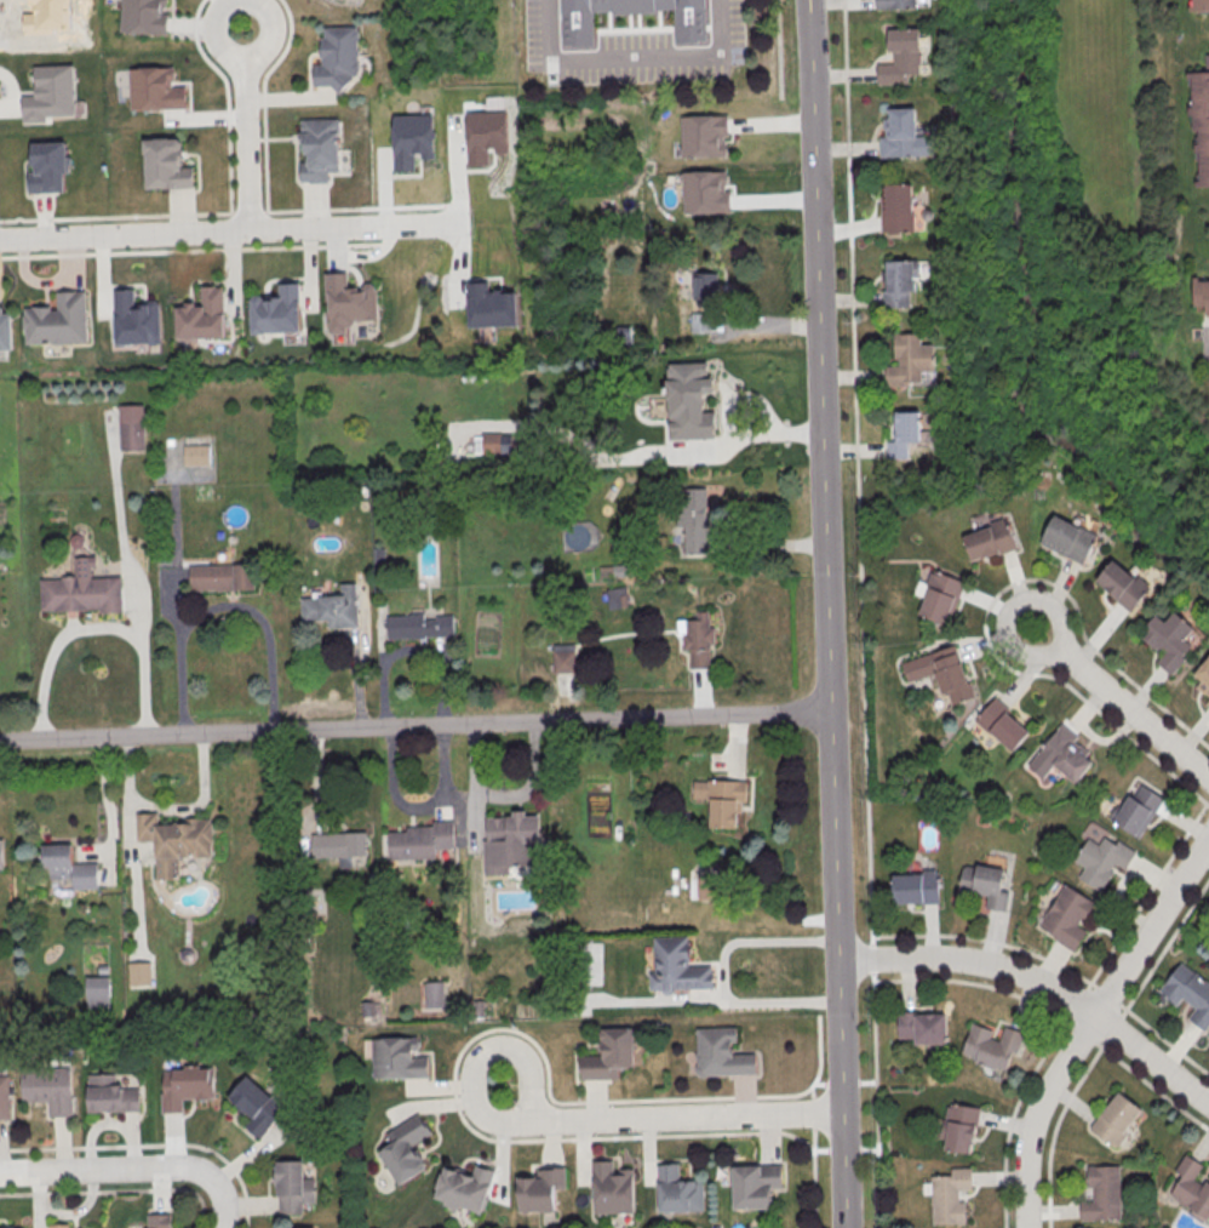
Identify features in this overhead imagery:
building: (895, 4)
building: (1198, 5)
building: (145, 16)
building: (687, 28)
road: (224, 39)
road: (779, 48)
building: (900, 56)
building: (338, 57)
road: (631, 57)
building: (156, 88)
building: (52, 95)
building: (1201, 120)
building: (900, 133)
building: (700, 136)
road: (245, 139)
building: (319, 148)
building: (166, 164)
building: (48, 166)
building: (701, 193)
building: (898, 207)
road: (409, 223)
road: (178, 233)
building: (899, 282)
building: (705, 286)
building: (1202, 293)
building: (349, 302)
building: (279, 310)
building: (199, 318)
building: (57, 319)
building: (133, 321)
building: (703, 322)
building: (5, 329)
road: (1208, 332)
building: (909, 359)
building: (687, 402)
building: (131, 427)
building: (904, 433)
building: (197, 455)
building: (693, 519)
building: (1067, 537)
building: (989, 541)
road: (764, 544)
building: (220, 576)
building: (1123, 584)
building: (81, 589)
building: (940, 596)
road: (222, 606)
building: (330, 610)
road: (984, 611)
road: (826, 613)
road: (863, 613)
building: (417, 626)
road: (93, 627)
building: (695, 638)
building: (1167, 639)
road: (408, 650)
building: (562, 661)
building: (941, 670)
road: (353, 676)
building: (1203, 676)
road: (700, 691)
building: (1208, 702)
road: (1122, 703)
building: (1003, 724)
road: (414, 725)
road: (734, 747)
building: (1059, 754)
road: (315, 782)
building: (720, 799)
road: (417, 809)
building: (1135, 810)
road: (108, 811)
building: (172, 840)
building: (418, 840)
building: (510, 841)
building: (337, 844)
building: (0, 855)
building: (1100, 859)
building: (68, 866)
building: (984, 884)
building: (706, 886)
building: (916, 886)
building: (1065, 916)
building: (585, 956)
road: (1055, 964)
building: (675, 965)
building: (138, 972)
road: (721, 973)
road: (1039, 984)
building: (98, 990)
building: (432, 994)
building: (1188, 994)
road: (1075, 1005)
road: (1055, 1017)
road: (1089, 1023)
building: (922, 1027)
road: (1111, 1028)
building: (991, 1046)
building: (720, 1052)
road: (479, 1055)
building: (608, 1055)
building: (400, 1058)
building: (184, 1086)
building: (46, 1089)
building: (109, 1095)
building: (4, 1098)
building: (256, 1104)
road: (688, 1116)
building: (1113, 1118)
road: (810, 1120)
building: (959, 1127)
road: (149, 1144)
building: (402, 1148)
road: (108, 1169)
building: (754, 1184)
building: (292, 1186)
building: (1191, 1187)
building: (464, 1188)
building: (611, 1188)
road: (115, 1189)
building: (538, 1189)
building: (676, 1189)
building: (1101, 1193)
building: (947, 1196)
road: (220, 1204)
road: (1047, 1210)
building: (157, 1221)
building: (59, 1224)
building: (6, 1227)

